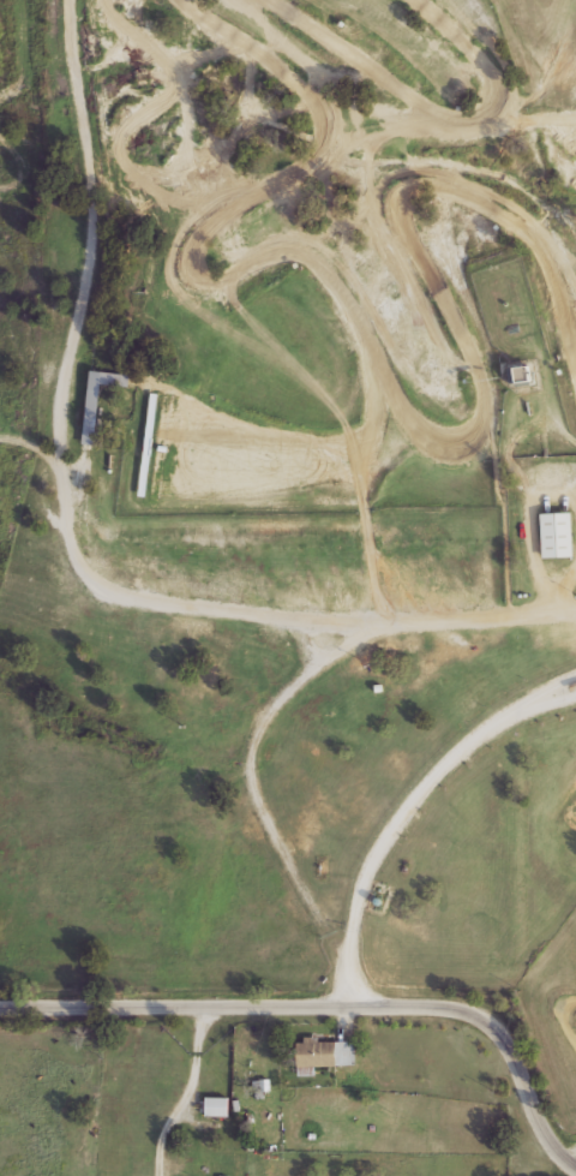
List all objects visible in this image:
building: (520, 372)
building: (100, 398)
road: (60, 422)
building: (557, 533)
road: (294, 686)
road: (414, 805)
road: (332, 1010)
building: (326, 1052)
road: (186, 1092)
building: (217, 1105)

